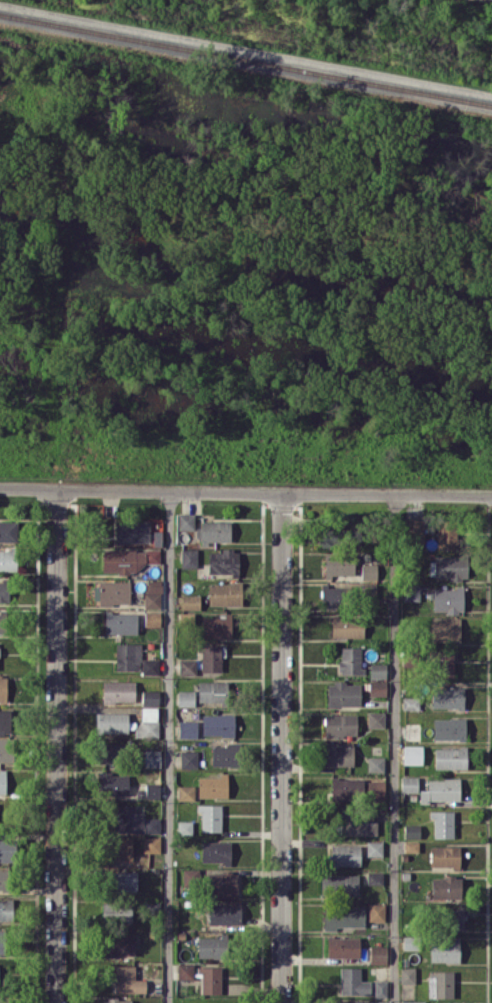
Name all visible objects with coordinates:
railway: (246, 56)
road: (245, 492)
building: (185, 521)
building: (132, 530)
building: (7, 531)
building: (214, 531)
building: (414, 532)
building: (331, 535)
building: (447, 539)
building: (188, 558)
building: (128, 559)
building: (8, 560)
building: (223, 560)
building: (339, 564)
building: (450, 567)
building: (369, 571)
building: (369, 590)
building: (4, 591)
building: (111, 592)
building: (411, 592)
building: (152, 593)
building: (225, 593)
building: (333, 596)
building: (448, 599)
building: (190, 601)
building: (152, 618)
building: (2, 622)
building: (120, 622)
building: (216, 626)
building: (347, 626)
building: (445, 630)
building: (128, 656)
building: (211, 658)
building: (350, 660)
building: (442, 663)
building: (150, 666)
building: (187, 666)
building: (377, 670)
building: (3, 686)
building: (377, 687)
building: (118, 691)
building: (212, 691)
building: (344, 693)
building: (149, 697)
building: (447, 697)
building: (185, 698)
building: (410, 703)
building: (375, 719)
building: (5, 720)
building: (148, 721)
building: (111, 722)
building: (218, 724)
building: (340, 725)
building: (187, 728)
building: (449, 728)
road: (56, 745)
road: (171, 746)
road: (282, 748)
road: (395, 748)
building: (5, 750)
building: (412, 754)
building: (107, 755)
building: (224, 755)
building: (338, 755)
building: (151, 758)
building: (450, 758)
building: (188, 759)
building: (376, 763)
building: (2, 782)
building: (113, 783)
building: (409, 783)
building: (212, 786)
building: (346, 788)
building: (441, 790)
building: (149, 791)
building: (375, 791)
building: (186, 792)
building: (210, 817)
building: (133, 820)
building: (358, 821)
building: (442, 824)
building: (412, 830)
building: (151, 844)
building: (411, 846)
building: (374, 848)
building: (119, 849)
building: (7, 850)
building: (215, 851)
building: (345, 854)
building: (444, 856)
building: (375, 877)
building: (4, 879)
building: (122, 881)
building: (222, 884)
building: (339, 884)
building: (446, 887)
building: (6, 909)
building: (117, 911)
building: (377, 911)
building: (224, 913)
building: (343, 916)
building: (453, 917)
building: (2, 941)
building: (118, 945)
building: (343, 946)
building: (211, 947)
building: (444, 949)
building: (378, 954)
building: (185, 970)
building: (407, 974)
building: (128, 980)
building: (210, 980)
building: (353, 982)
building: (440, 984)
building: (380, 988)
building: (116, 1000)
building: (378, 1001)
building: (414, 1001)

